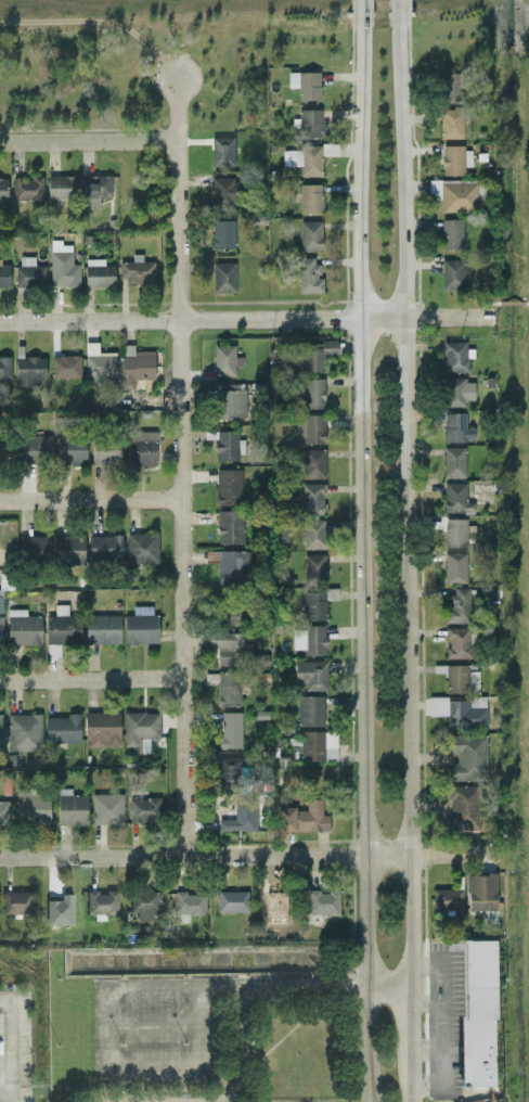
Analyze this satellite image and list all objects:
road: (397, 9)
road: (360, 11)
building: (305, 85)
building: (450, 86)
building: (308, 123)
building: (450, 124)
road: (88, 142)
building: (221, 151)
building: (304, 159)
building: (454, 159)
building: (60, 187)
building: (26, 188)
building: (93, 190)
building: (1, 192)
building: (224, 192)
building: (456, 196)
building: (310, 197)
building: (222, 233)
building: (451, 233)
building: (310, 235)
building: (62, 265)
building: (136, 270)
building: (28, 272)
building: (98, 272)
building: (452, 273)
building: (4, 275)
building: (308, 275)
building: (222, 277)
road: (526, 303)
road: (509, 304)
road: (485, 310)
road: (236, 320)
building: (318, 354)
building: (454, 356)
building: (224, 360)
building: (98, 362)
building: (134, 366)
building: (64, 367)
building: (4, 368)
building: (28, 370)
building: (457, 392)
building: (312, 393)
building: (230, 403)
building: (310, 427)
building: (455, 428)
building: (227, 446)
building: (34, 448)
building: (141, 448)
building: (70, 450)
building: (106, 451)
building: (453, 462)
building: (312, 463)
road: (182, 465)
building: (227, 487)
building: (455, 498)
road: (91, 499)
building: (311, 499)
road: (403, 502)
road: (362, 503)
building: (229, 527)
building: (454, 531)
building: (312, 534)
building: (34, 547)
building: (104, 547)
building: (68, 548)
building: (141, 548)
building: (231, 566)
building: (313, 567)
building: (454, 567)
building: (5, 580)
building: (315, 604)
building: (457, 605)
building: (231, 616)
building: (0, 620)
building: (140, 626)
building: (23, 628)
building: (61, 629)
building: (101, 629)
building: (308, 639)
building: (459, 643)
building: (227, 648)
building: (311, 675)
building: (461, 678)
road: (93, 679)
building: (228, 689)
building: (309, 710)
building: (459, 712)
building: (62, 729)
building: (101, 729)
building: (140, 729)
building: (229, 730)
building: (23, 732)
building: (318, 746)
building: (467, 757)
building: (232, 770)
building: (33, 807)
building: (70, 807)
building: (464, 807)
building: (106, 808)
building: (144, 808)
building: (3, 811)
building: (241, 817)
building: (304, 817)
road: (244, 855)
building: (480, 892)
building: (446, 899)
building: (231, 901)
building: (270, 901)
building: (321, 901)
building: (18, 904)
building: (103, 904)
building: (189, 904)
building: (59, 905)
building: (147, 906)
road: (305, 984)
road: (227, 985)
road: (387, 986)
road: (5, 1002)
road: (248, 1002)
building: (479, 1013)
road: (157, 1025)
parking lot: (163, 1033)
road: (369, 1042)
road: (407, 1046)
road: (242, 1047)
road: (11, 1052)
road: (114, 1058)
road: (250, 1069)
road: (251, 1078)
road: (241, 1086)
road: (163, 1087)
road: (151, 1094)
road: (5, 1100)

